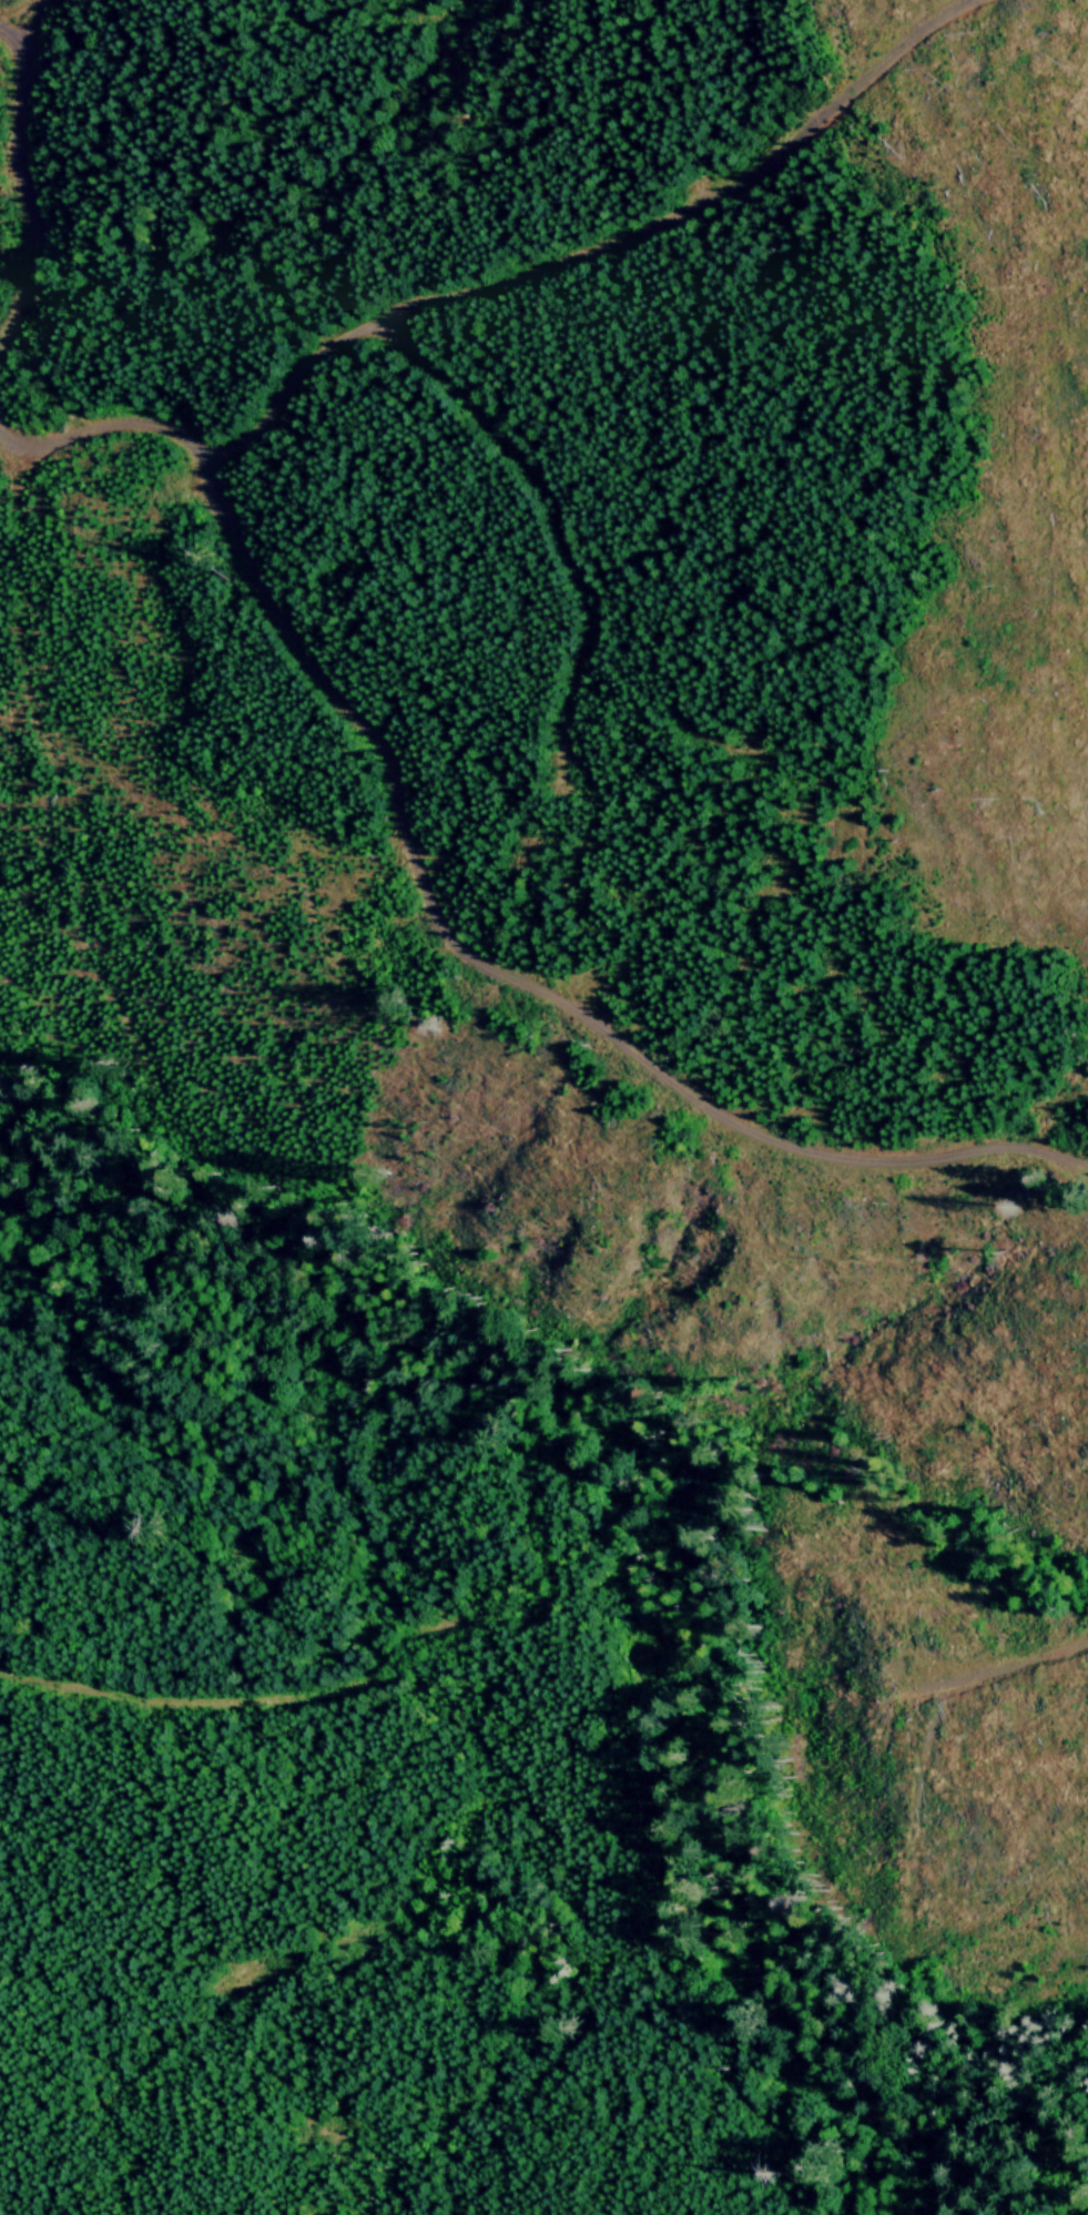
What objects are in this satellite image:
road: (17, 180)
road: (458, 294)
road: (560, 516)
road: (429, 908)

